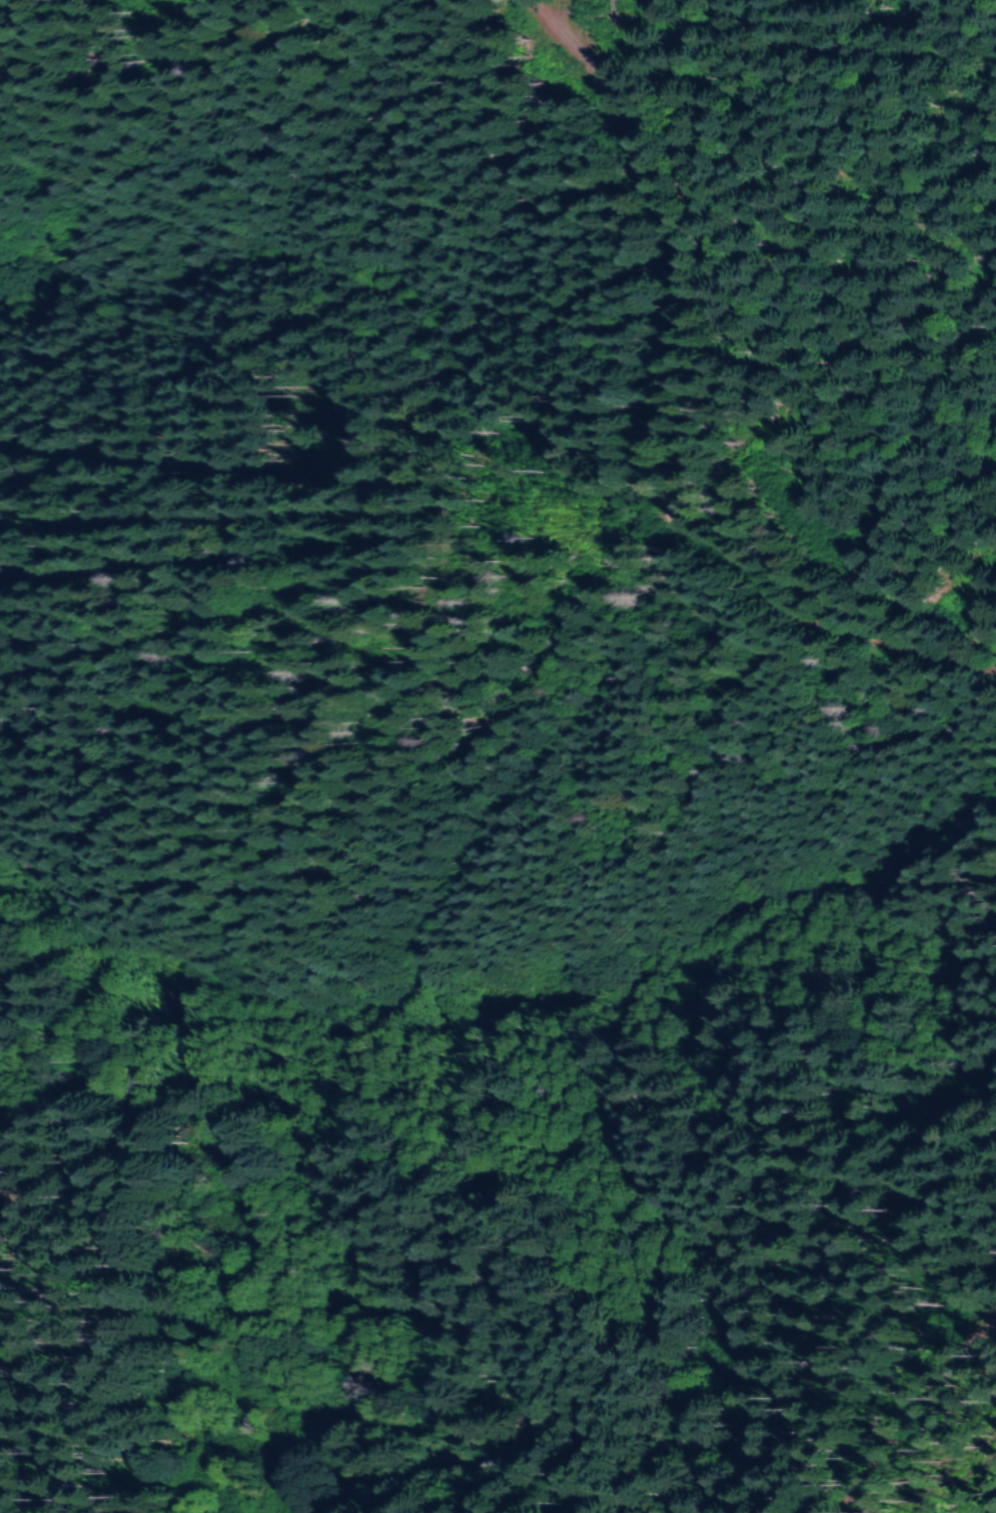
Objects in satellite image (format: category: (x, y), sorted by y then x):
road: (707, 381)
road: (937, 1429)

